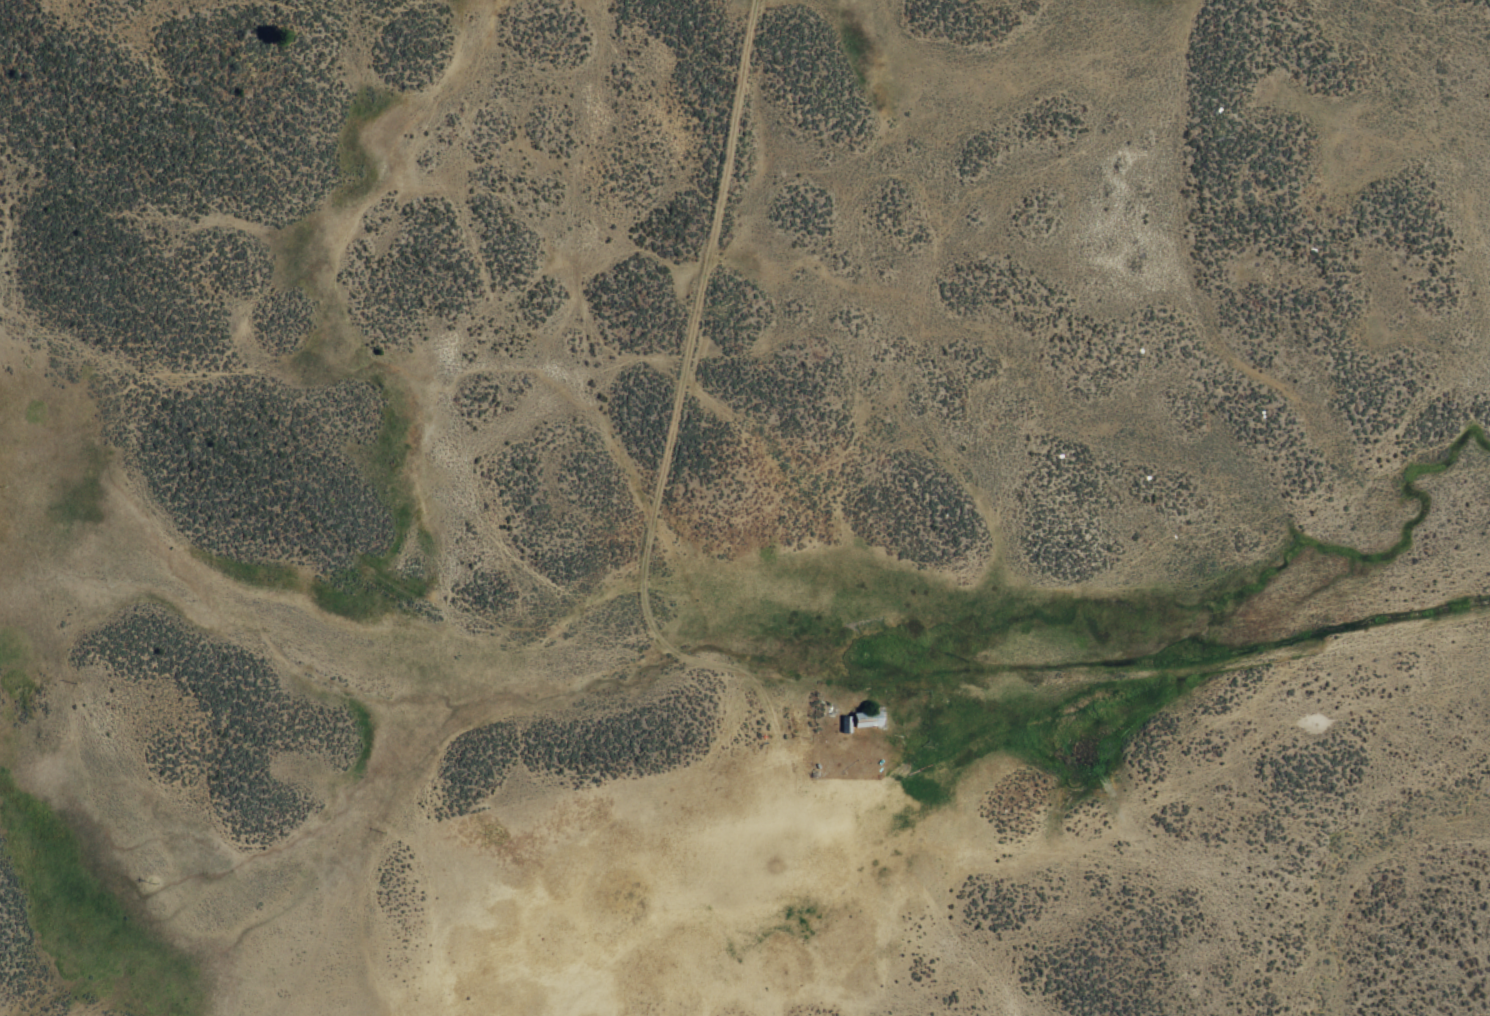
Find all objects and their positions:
road: (662, 498)
crop: (740, 502)

